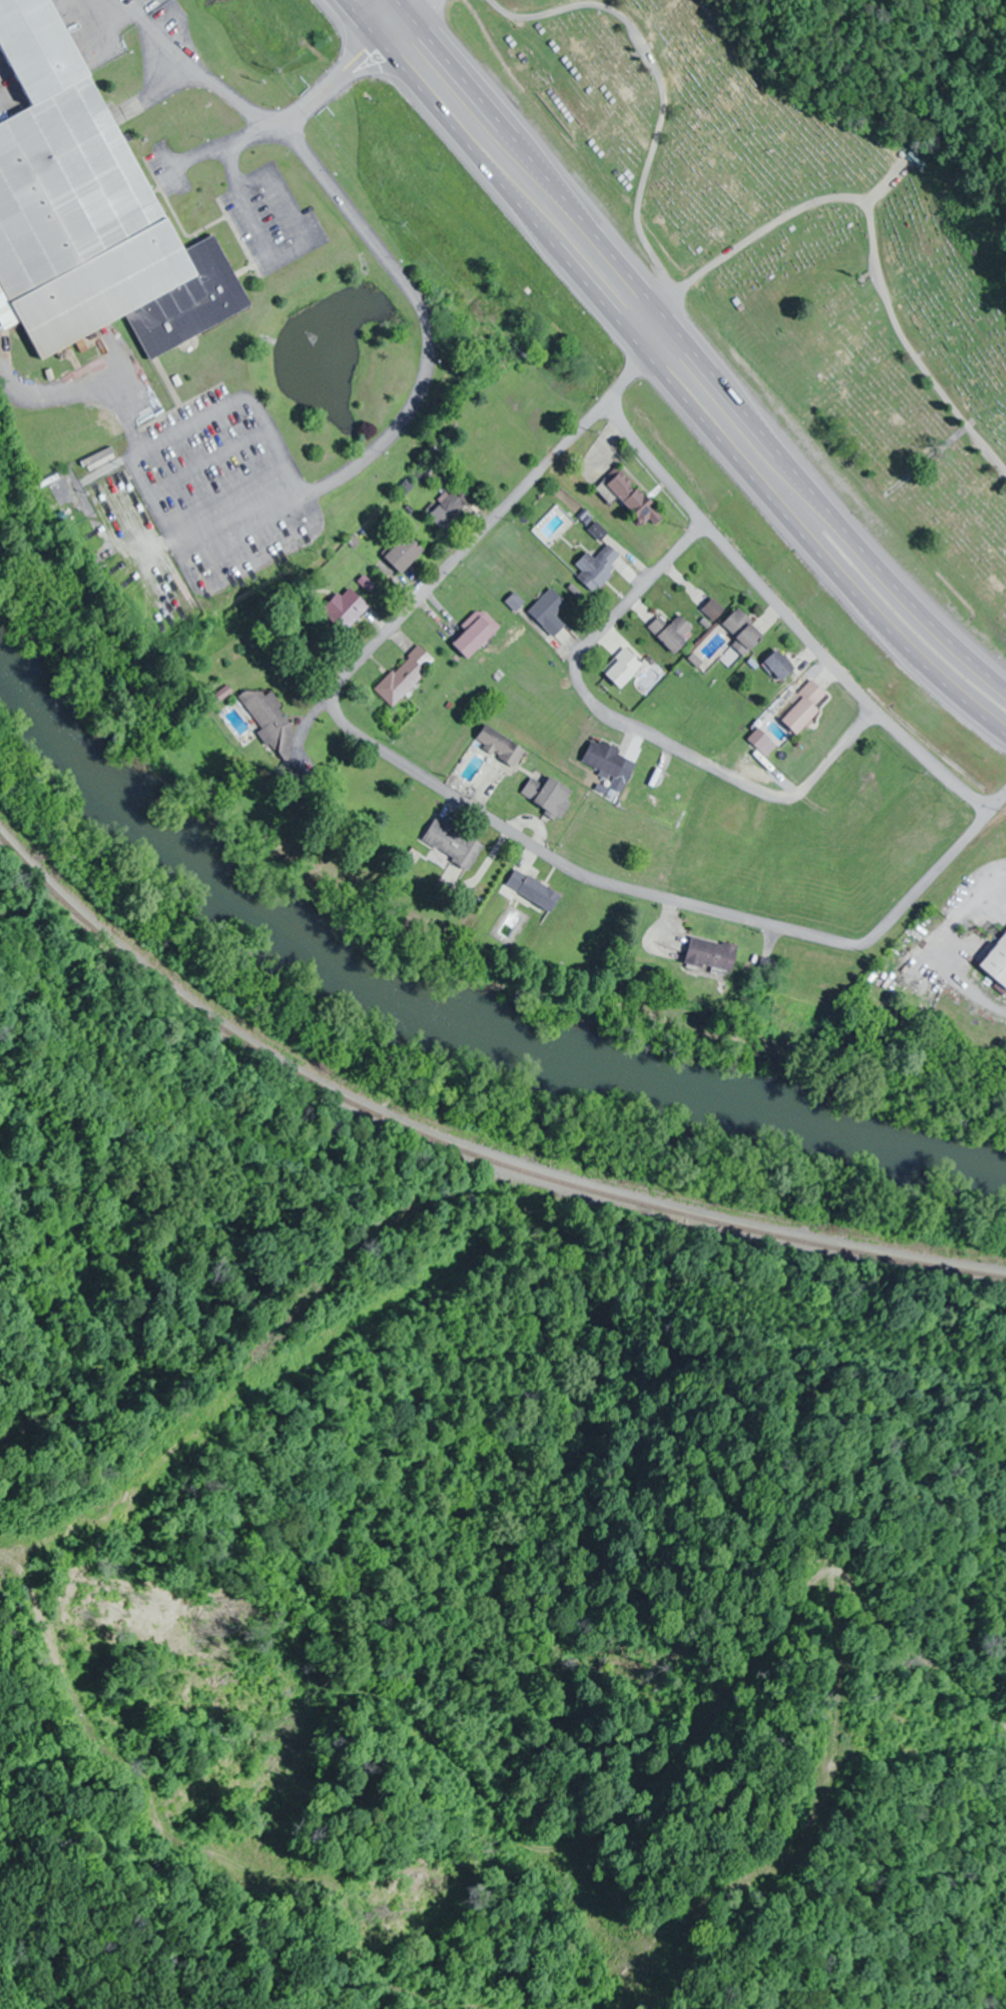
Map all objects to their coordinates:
road: (404, 5)
road: (357, 20)
road: (310, 97)
building: (88, 211)
road: (873, 232)
park: (790, 251)
road: (699, 355)
road: (679, 399)
building: (637, 499)
building: (451, 508)
building: (406, 554)
road: (738, 560)
building: (599, 569)
building: (348, 609)
building: (551, 612)
building: (746, 632)
building: (674, 633)
building: (478, 634)
building: (782, 666)
building: (625, 669)
building: (406, 677)
building: (806, 709)
building: (272, 726)
road: (633, 731)
building: (761, 740)
building: (501, 746)
building: (606, 759)
road: (930, 762)
road: (433, 786)
building: (550, 796)
road: (999, 798)
building: (453, 843)
building: (522, 882)
building: (712, 955)
building: (997, 963)
river: (446, 1009)
railway: (450, 1138)

